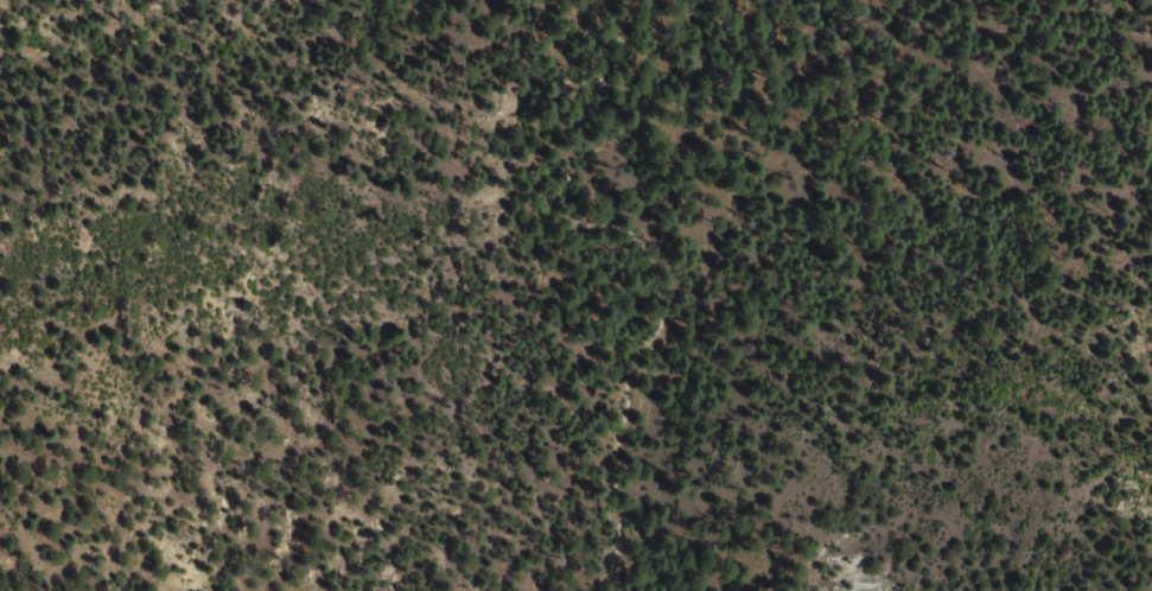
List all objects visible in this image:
road: (679, 293)

